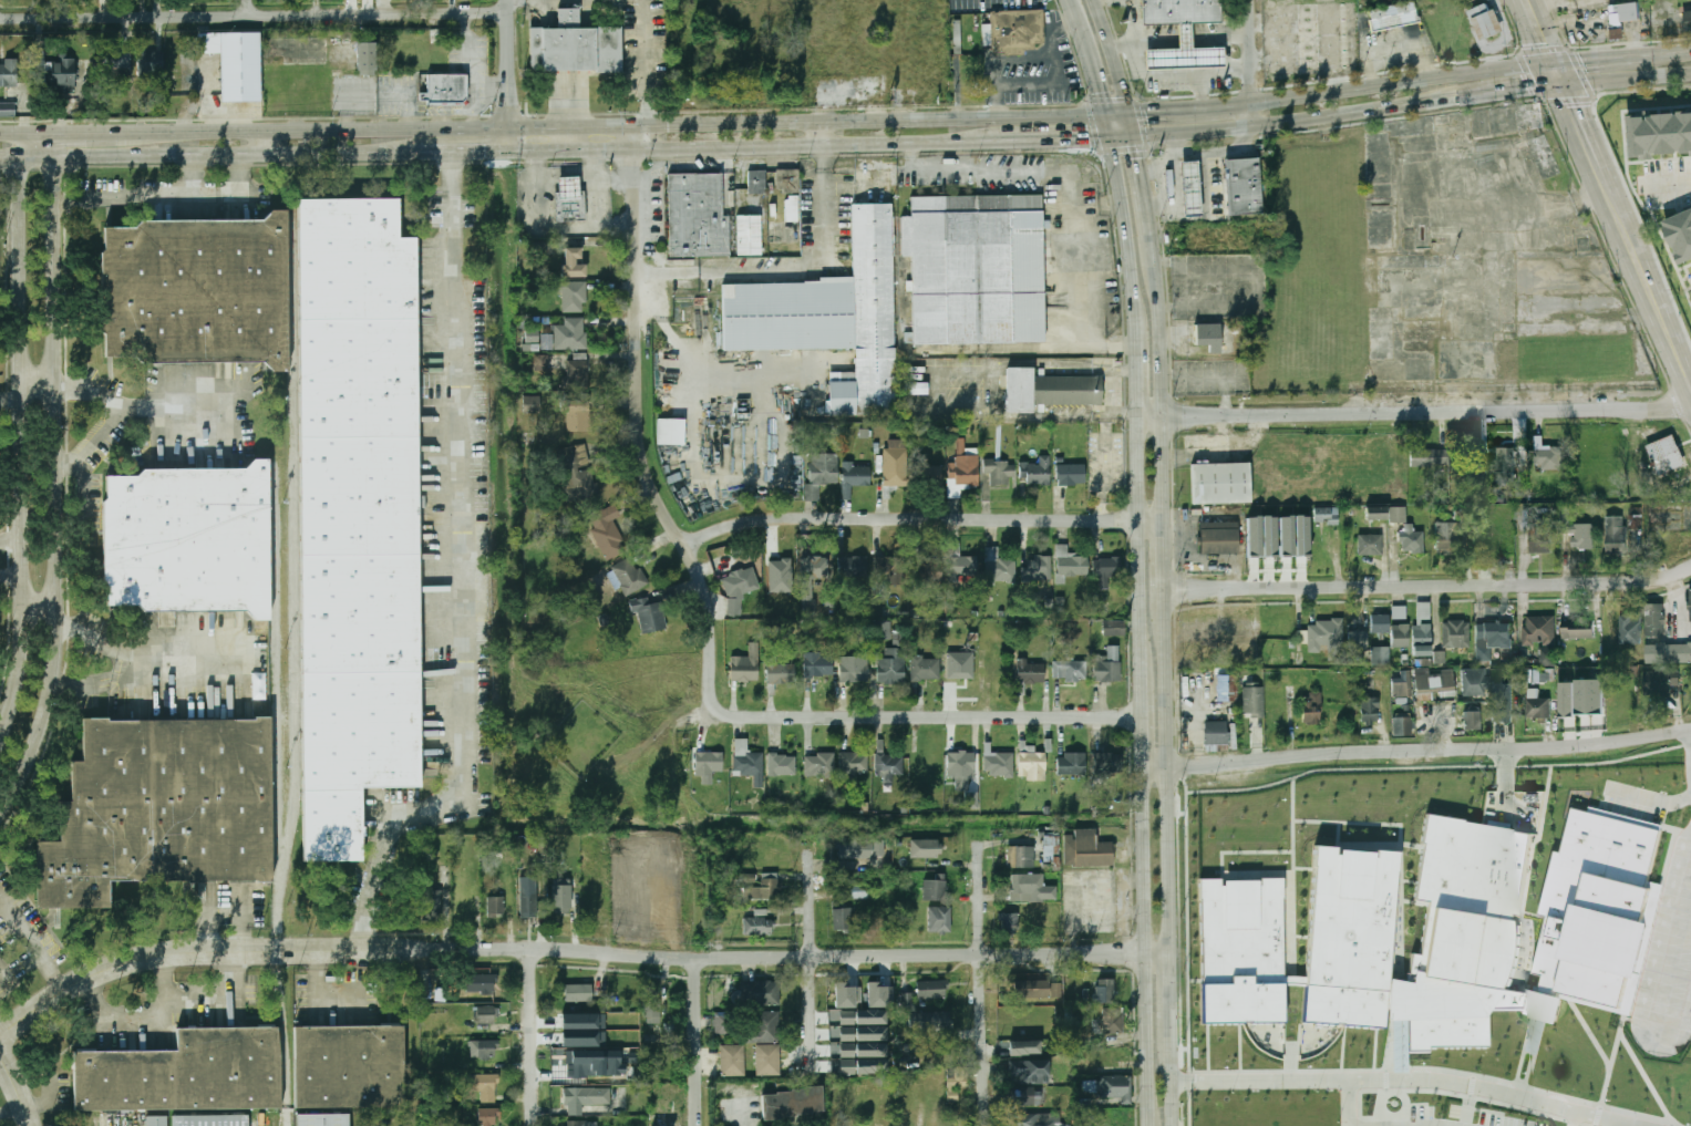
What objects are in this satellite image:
road: (1100, 0)
road: (250, 8)
building: (1625, 10)
building: (1180, 11)
road: (254, 16)
building: (1393, 16)
road: (1133, 20)
building: (1486, 20)
building: (1018, 30)
road: (1540, 30)
road: (1228, 38)
road: (1210, 40)
road: (1186, 41)
road: (1155, 42)
traffic signals: (1546, 42)
building: (573, 47)
road: (1677, 50)
building: (1185, 52)
gas station: (1185, 52)
road: (1113, 54)
building: (365, 55)
road: (1608, 55)
building: (116, 58)
traffic signals: (1586, 58)
building: (149, 60)
road: (998, 61)
building: (233, 62)
road: (1254, 62)
road: (1095, 69)
road: (1225, 70)
building: (7, 73)
road: (1058, 73)
road: (1559, 73)
building: (63, 75)
road: (509, 76)
road: (1155, 76)
road: (1628, 79)
road: (1403, 80)
building: (442, 86)
traffic signals: (1102, 90)
traffic signals: (1529, 90)
road: (1499, 93)
traffic signals: (1574, 105)
road: (1189, 106)
traffic signals: (509, 107)
building: (7, 110)
traffic signals: (1151, 110)
traffic signals: (570, 111)
road: (1117, 113)
road: (570, 114)
road: (1285, 121)
road: (1131, 125)
traffic signals: (666, 126)
road: (636, 127)
road: (89, 133)
road: (821, 133)
road: (7, 134)
building: (1660, 134)
road: (1588, 138)
road: (1123, 140)
road: (1045, 141)
traffic signals: (1091, 141)
road: (262, 144)
road: (744, 147)
traffic signals: (484, 154)
road: (450, 155)
road: (202, 156)
road: (7, 158)
traffic signals: (1138, 158)
road: (916, 166)
traffic signals: (633, 168)
road: (1142, 173)
road: (194, 175)
road: (1667, 180)
building: (787, 182)
building: (756, 183)
gas station: (565, 184)
building: (1243, 186)
building: (1189, 188)
gas station: (1189, 188)
road: (164, 194)
building: (567, 206)
building: (792, 208)
building: (699, 217)
road: (1072, 225)
road: (566, 227)
building: (1681, 235)
building: (749, 236)
road: (1154, 241)
road: (1132, 244)
building: (538, 251)
building: (573, 264)
road: (800, 267)
building: (976, 269)
road: (649, 271)
road: (1651, 289)
building: (203, 290)
building: (573, 295)
building: (831, 317)
building: (570, 334)
building: (1211, 335)
building: (537, 341)
road: (687, 358)
building: (542, 363)
building: (577, 374)
road: (1138, 385)
building: (1049, 391)
road: (38, 394)
road: (1165, 396)
road: (10, 401)
building: (530, 404)
road: (175, 405)
road: (1413, 413)
building: (577, 415)
road: (113, 420)
road: (638, 427)
building: (671, 433)
road: (21, 436)
building: (1666, 454)
building: (1429, 457)
building: (1548, 457)
building: (894, 463)
building: (1503, 464)
building: (1000, 471)
building: (965, 472)
building: (1038, 472)
building: (822, 473)
building: (578, 474)
building: (1071, 474)
building: (854, 477)
building: (931, 478)
road: (54, 483)
building: (1220, 483)
building: (357, 514)
building: (1326, 516)
building: (1669, 517)
road: (924, 519)
building: (1635, 520)
building: (1406, 527)
building: (1575, 529)
building: (608, 531)
building: (1616, 534)
building: (1447, 535)
building: (1254, 536)
building: (1269, 536)
building: (1286, 536)
building: (1301, 536)
building: (1219, 538)
building: (189, 539)
building: (1540, 541)
road: (11, 543)
building: (1370, 545)
road: (1165, 551)
road: (1138, 552)
building: (1071, 564)
building: (999, 565)
railway: (297, 566)
building: (853, 567)
building: (963, 567)
building: (891, 568)
building: (1037, 569)
building: (1106, 570)
building: (812, 574)
building: (928, 574)
building: (779, 575)
road: (465, 576)
building: (629, 576)
road: (11, 577)
road: (1429, 587)
building: (739, 588)
building: (1060, 600)
building: (1049, 603)
building: (1690, 603)
road: (39, 611)
building: (914, 612)
building: (1400, 612)
building: (976, 613)
building: (649, 614)
building: (1654, 620)
building: (947, 623)
building: (1380, 623)
building: (1630, 627)
building: (1578, 628)
building: (1114, 629)
building: (1221, 629)
building: (883, 630)
building: (1422, 630)
building: (1539, 630)
building: (1456, 634)
building: (973, 636)
building: (1401, 636)
building: (1323, 637)
building: (1492, 639)
building: (1358, 641)
building: (1668, 652)
building: (1545, 654)
building: (1380, 655)
building: (1439, 657)
road: (154, 660)
building: (746, 664)
building: (1107, 664)
building: (815, 665)
building: (959, 665)
building: (891, 667)
building: (926, 668)
building: (854, 669)
building: (1070, 671)
building: (1030, 672)
building: (781, 673)
building: (1538, 675)
building: (1433, 680)
building: (1475, 681)
building: (1660, 681)
road: (71, 684)
building: (1402, 685)
building: (1226, 688)
building: (1589, 695)
building: (1252, 699)
building: (1567, 699)
building: (1501, 700)
building: (1538, 706)
building: (1619, 706)
building: (1311, 707)
building: (1370, 709)
road: (928, 717)
building: (1254, 717)
building: (1401, 717)
building: (1472, 720)
road: (1141, 725)
building: (1215, 732)
road: (1416, 752)
building: (747, 762)
building: (998, 762)
building: (709, 763)
building: (819, 764)
building: (854, 764)
building: (1071, 764)
building: (1109, 764)
building: (782, 765)
building: (1032, 766)
building: (889, 767)
road: (1166, 767)
building: (960, 768)
railway: (277, 795)
building: (971, 800)
building: (159, 807)
road: (1653, 809)
building: (1623, 816)
building: (925, 848)
building: (1049, 848)
building: (862, 849)
building: (1086, 849)
building: (1018, 858)
building: (747, 878)
building: (763, 888)
building: (1034, 888)
building: (936, 890)
building: (859, 891)
building: (464, 900)
building: (563, 900)
building: (529, 901)
building: (432, 905)
building: (496, 906)
road: (239, 917)
building: (842, 920)
building: (939, 920)
building: (1009, 922)
building: (757, 927)
building: (1433, 931)
road: (32, 942)
road: (358, 947)
road: (1145, 947)
building: (1641, 947)
road: (137, 953)
road: (794, 953)
road: (812, 961)
road: (1656, 973)
road: (4, 981)
road: (697, 981)
road: (982, 982)
building: (480, 983)
road: (216, 988)
building: (1037, 989)
road: (1171, 989)
building: (931, 990)
building: (1103, 991)
road: (313, 992)
building: (578, 992)
building: (760, 993)
building: (846, 995)
building: (878, 995)
building: (653, 1010)
road: (140, 1015)
building: (485, 1015)
building: (858, 1017)
building: (581, 1021)
building: (1113, 1021)
building: (929, 1022)
building: (763, 1027)
building: (858, 1033)
road: (534, 1035)
building: (584, 1039)
building: (1396, 1045)
building: (1023, 1047)
building: (482, 1048)
building: (767, 1060)
building: (732, 1061)
building: (594, 1063)
building: (351, 1070)
building: (1029, 1071)
building: (185, 1075)
road: (1172, 1077)
building: (956, 1081)
road: (1403, 1082)
road: (18, 1086)
building: (483, 1086)
building: (1115, 1087)
building: (1027, 1097)
building: (585, 1098)
flagpole: (1393, 1103)
building: (793, 1104)
road: (1350, 1104)
building: (487, 1117)
road: (16, 1118)
building: (324, 1118)
building: (1035, 1119)
building: (155, 1120)
building: (209, 1120)
building: (584, 1124)

